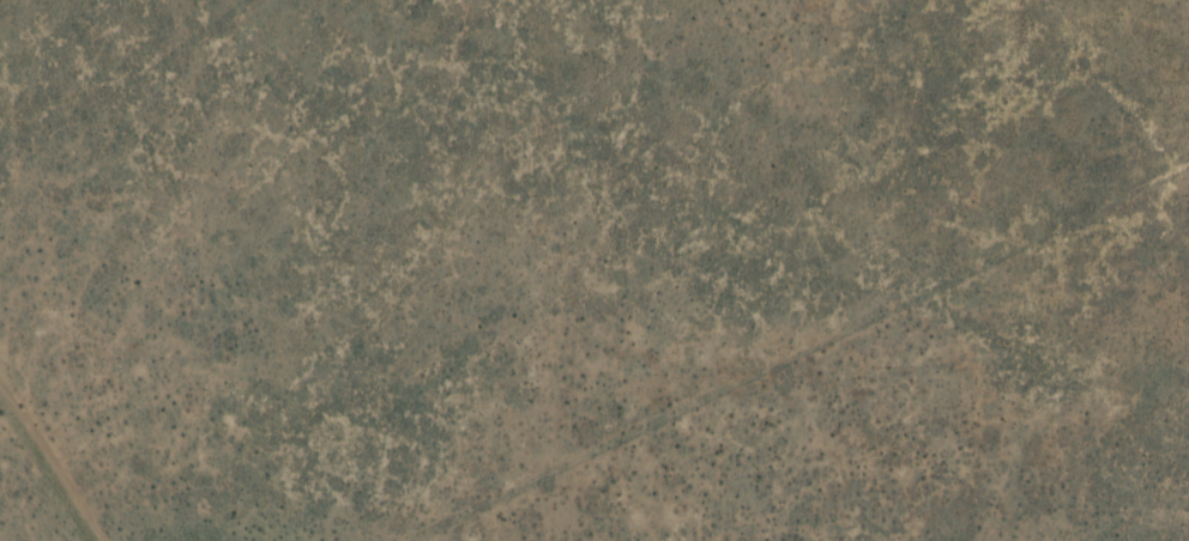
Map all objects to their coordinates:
road: (47, 468)

